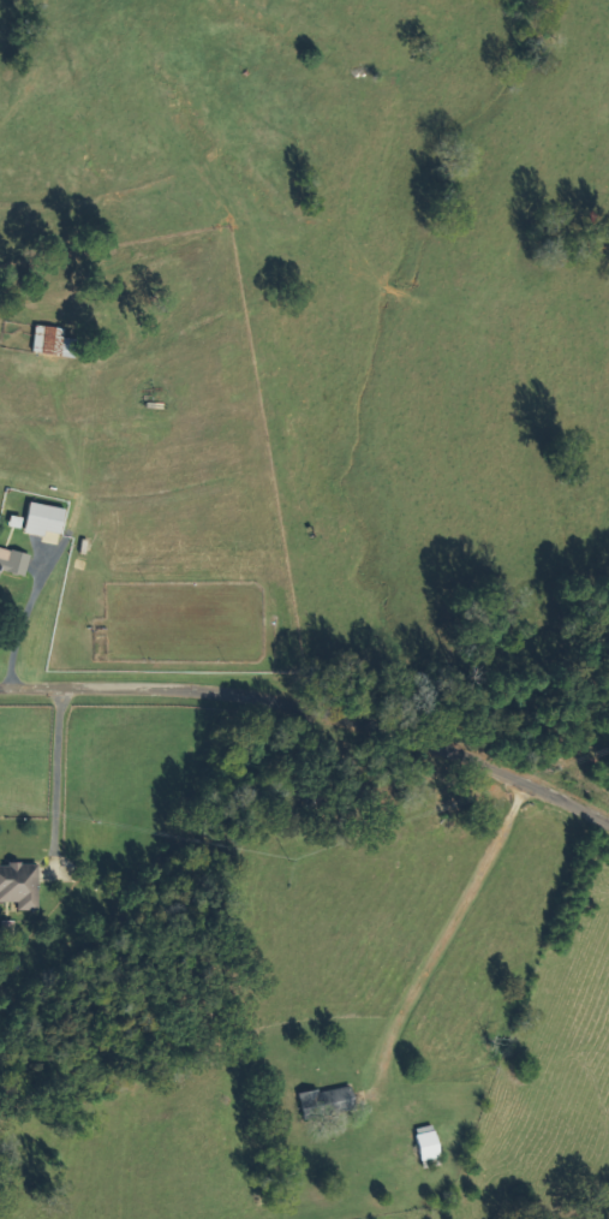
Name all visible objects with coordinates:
building: (47, 521)
building: (14, 563)
road: (310, 735)
building: (22, 886)
building: (329, 1104)
building: (430, 1144)

